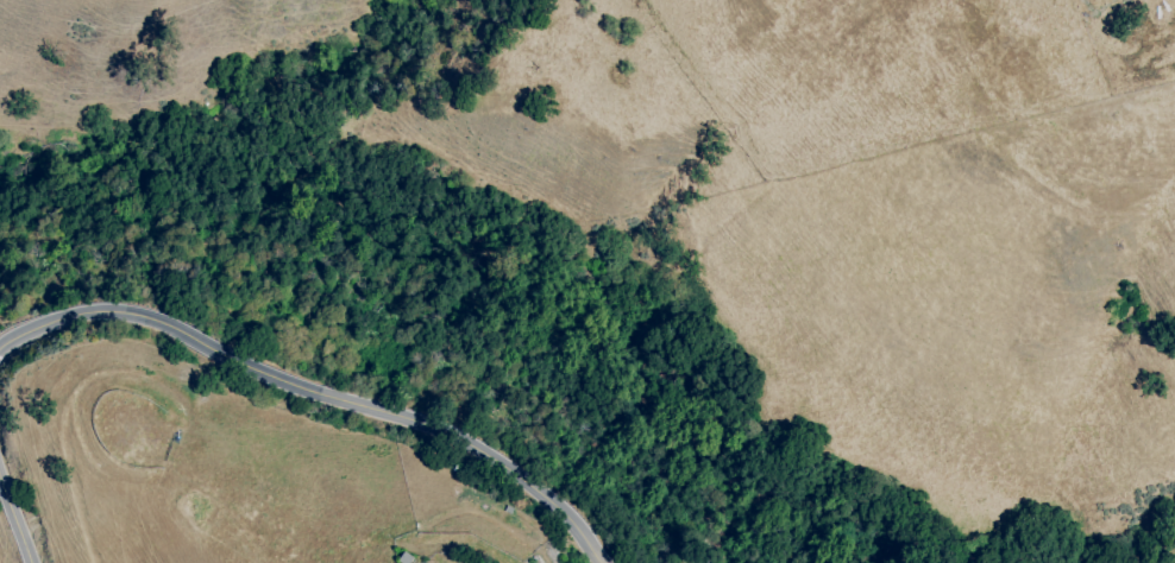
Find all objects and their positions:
road: (316, 392)
road: (15, 521)

